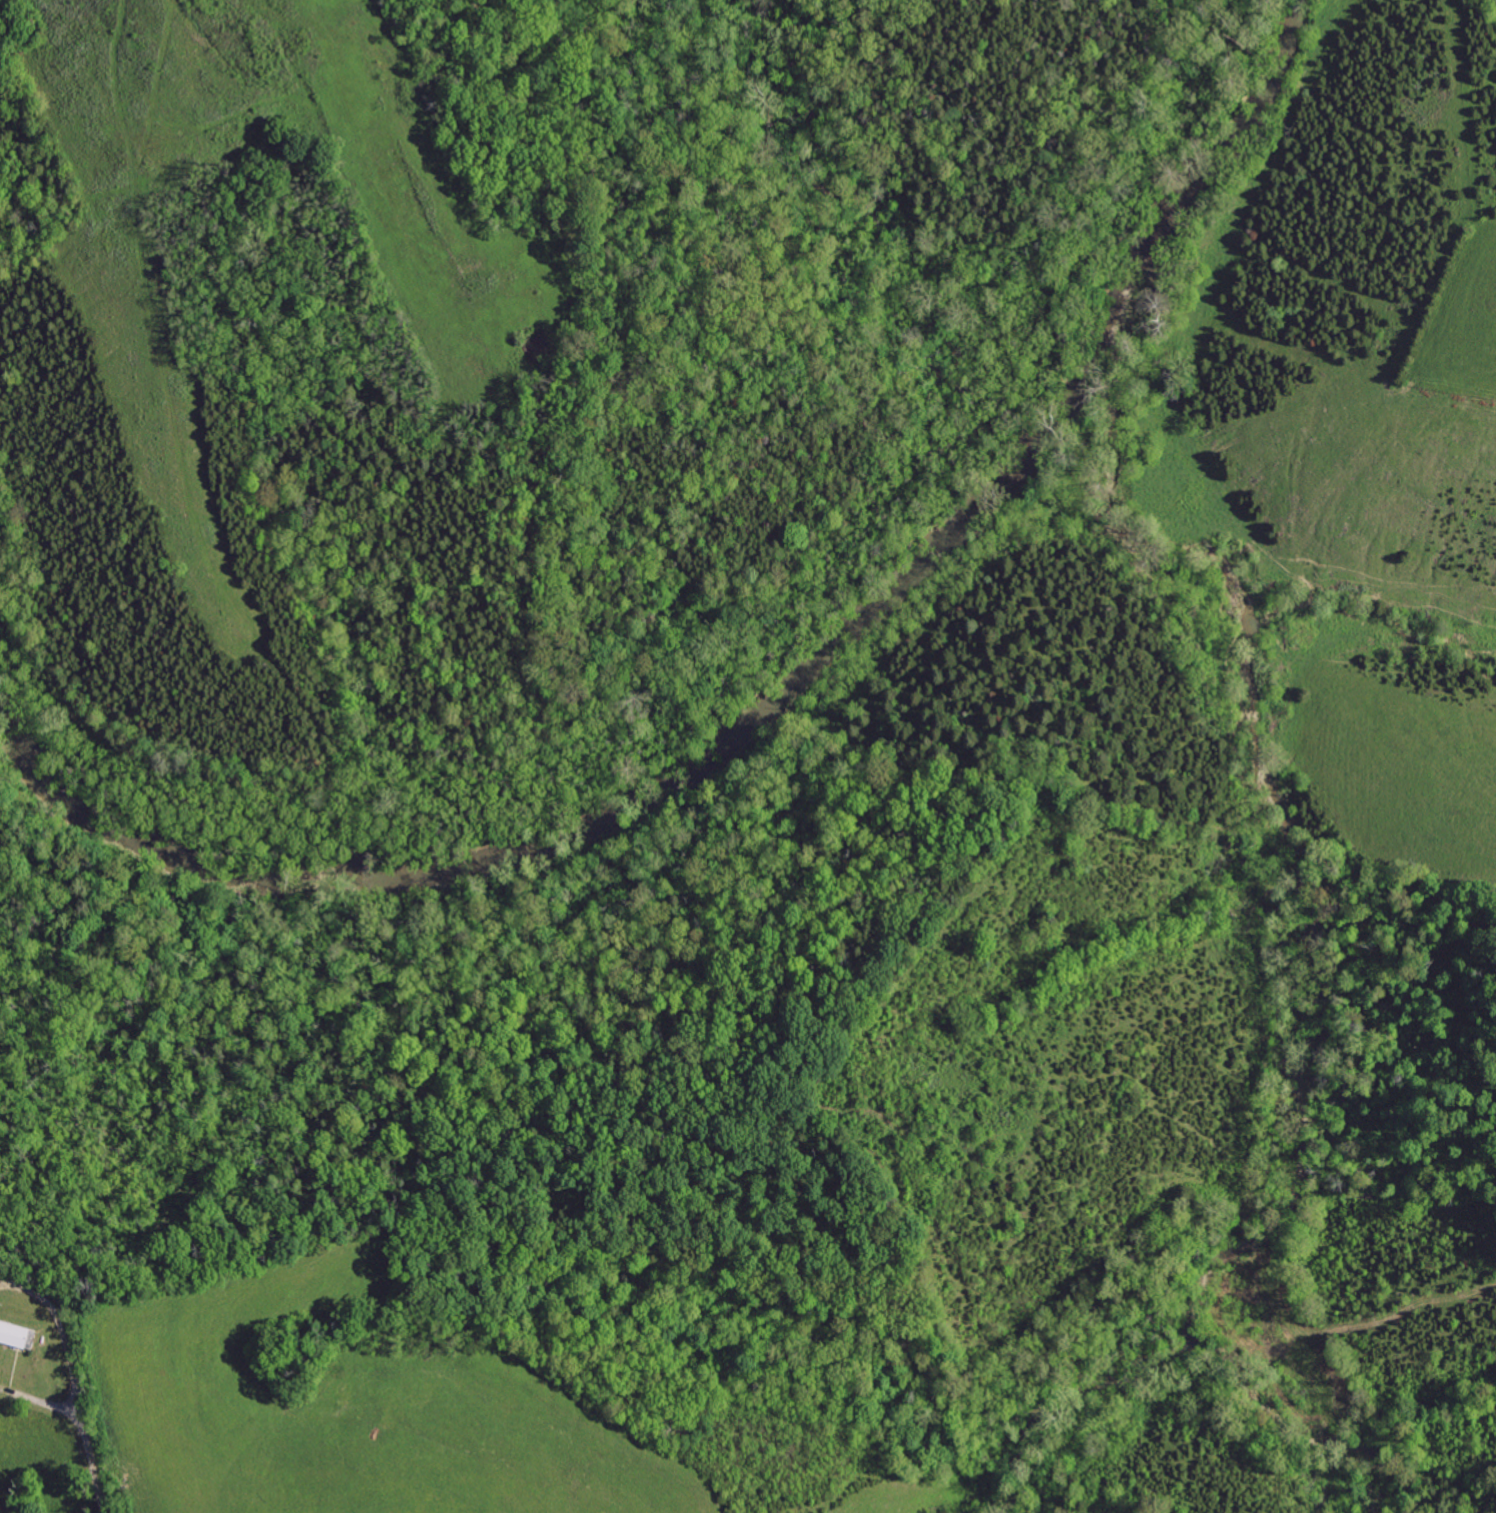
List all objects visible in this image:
road: (64, 1342)
road: (95, 1473)

